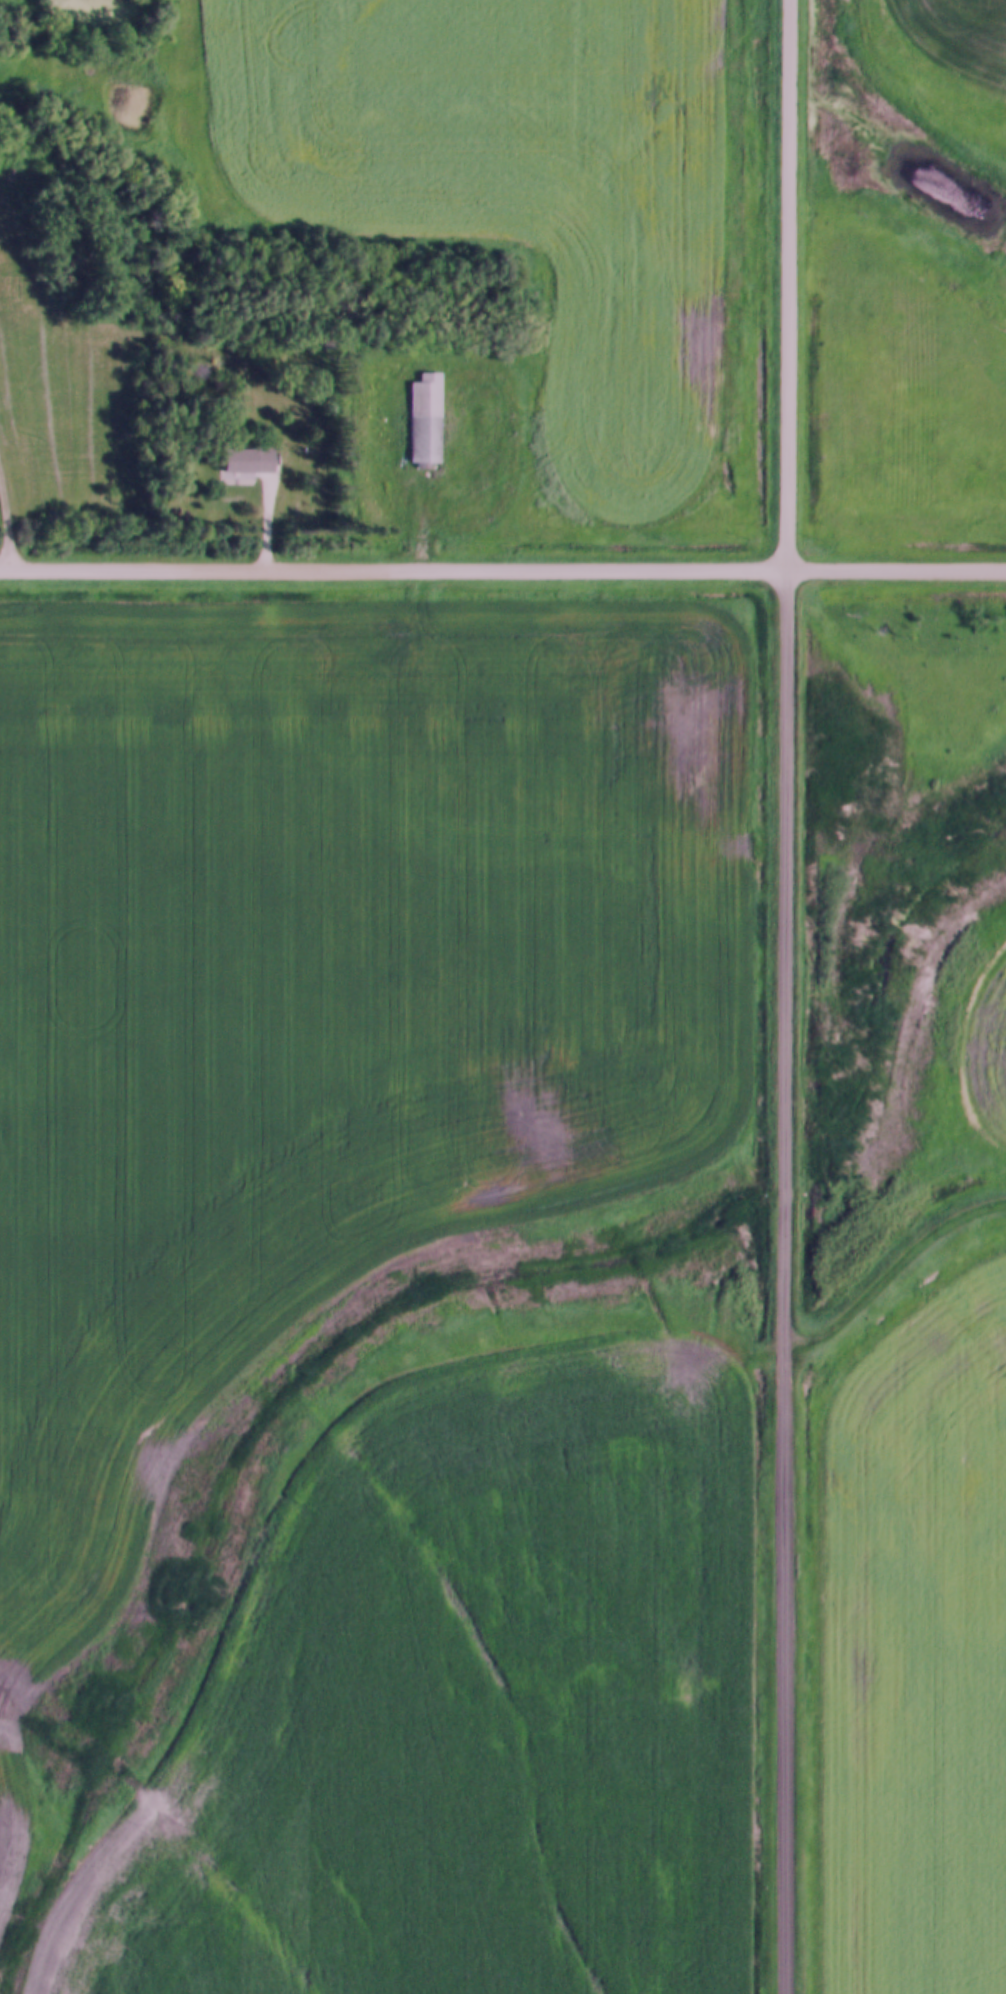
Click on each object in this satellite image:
building: (424, 418)
building: (247, 456)
crop: (482, 1707)

